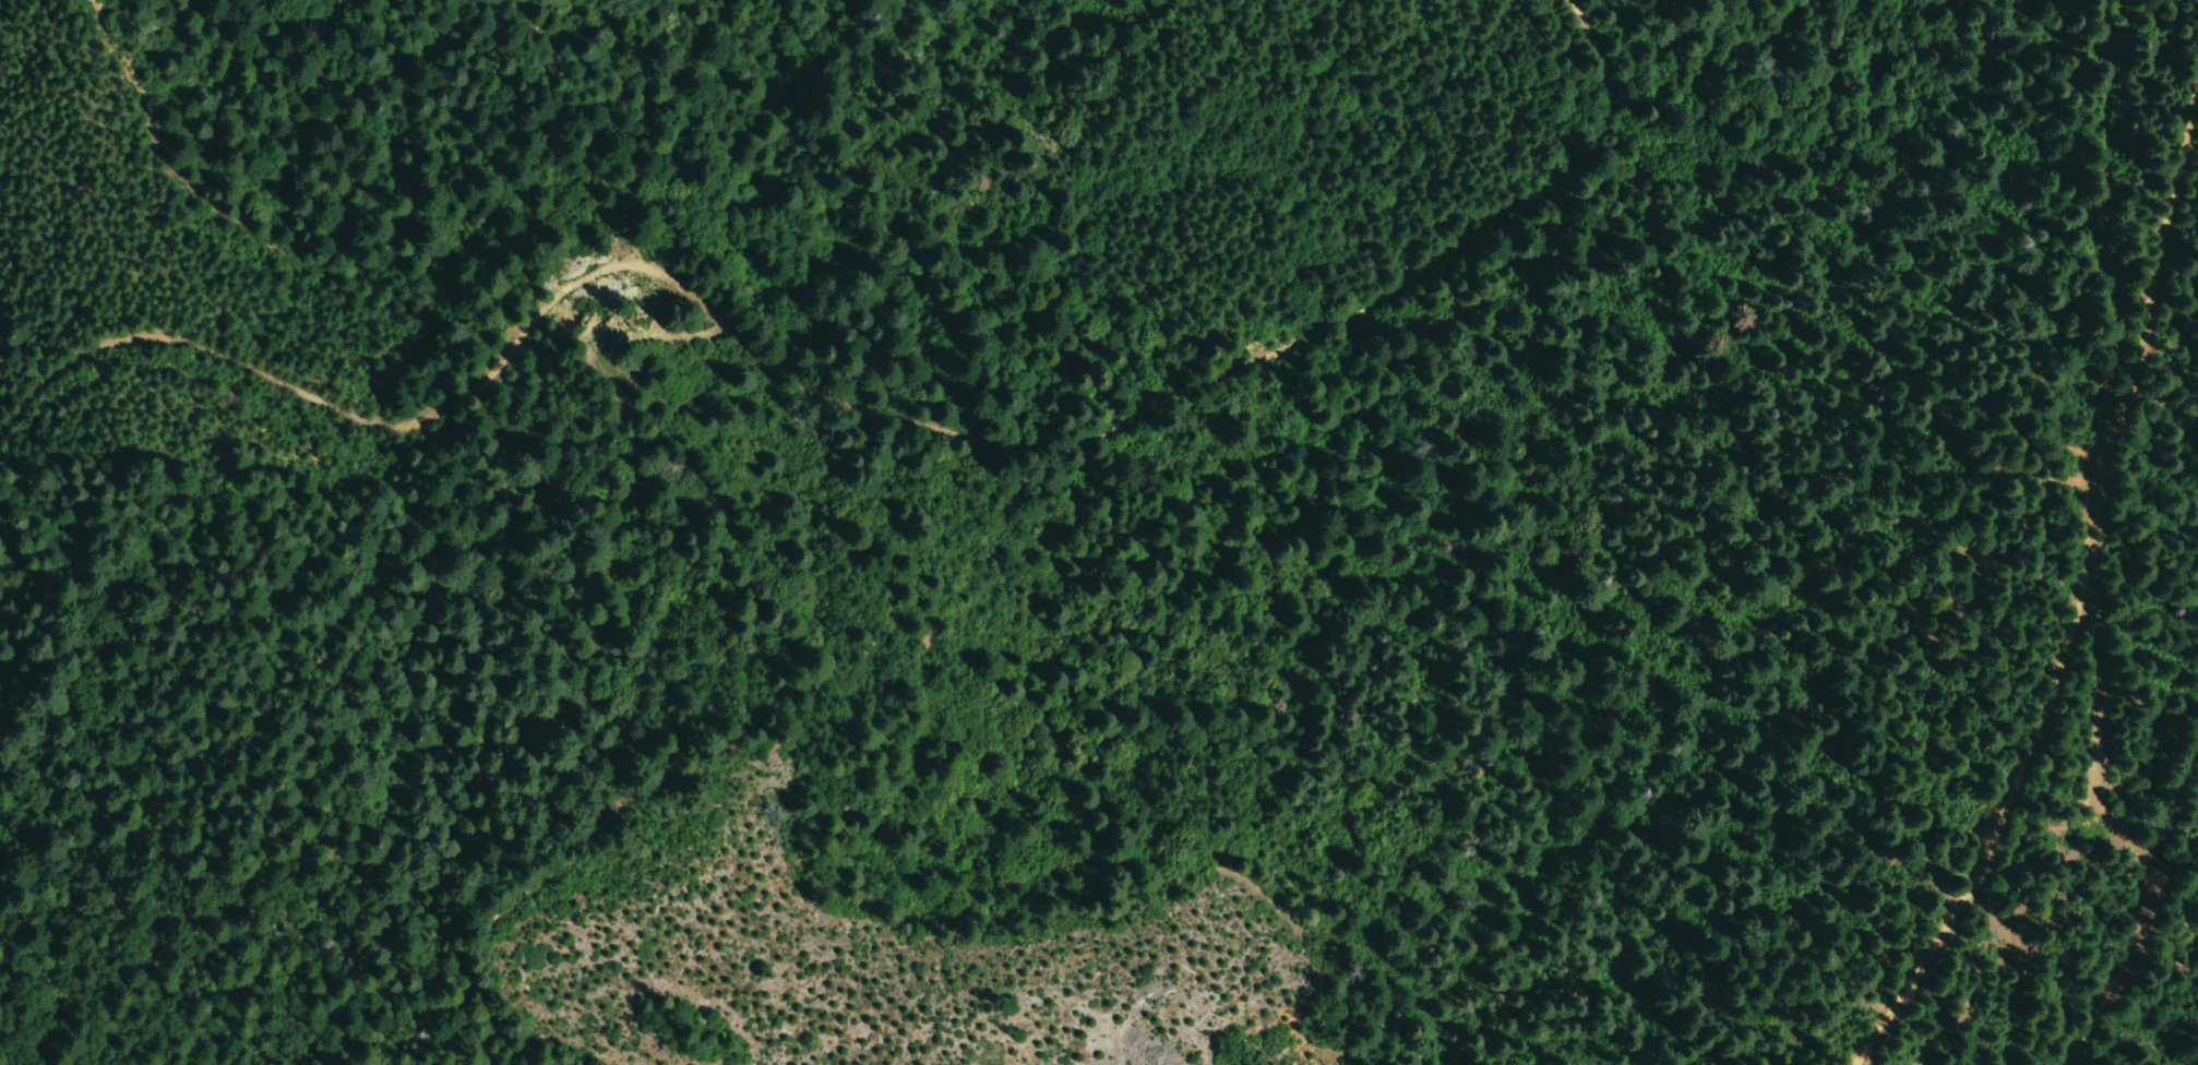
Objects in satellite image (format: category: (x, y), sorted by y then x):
road: (844, 393)
road: (2077, 574)
road: (2118, 828)

